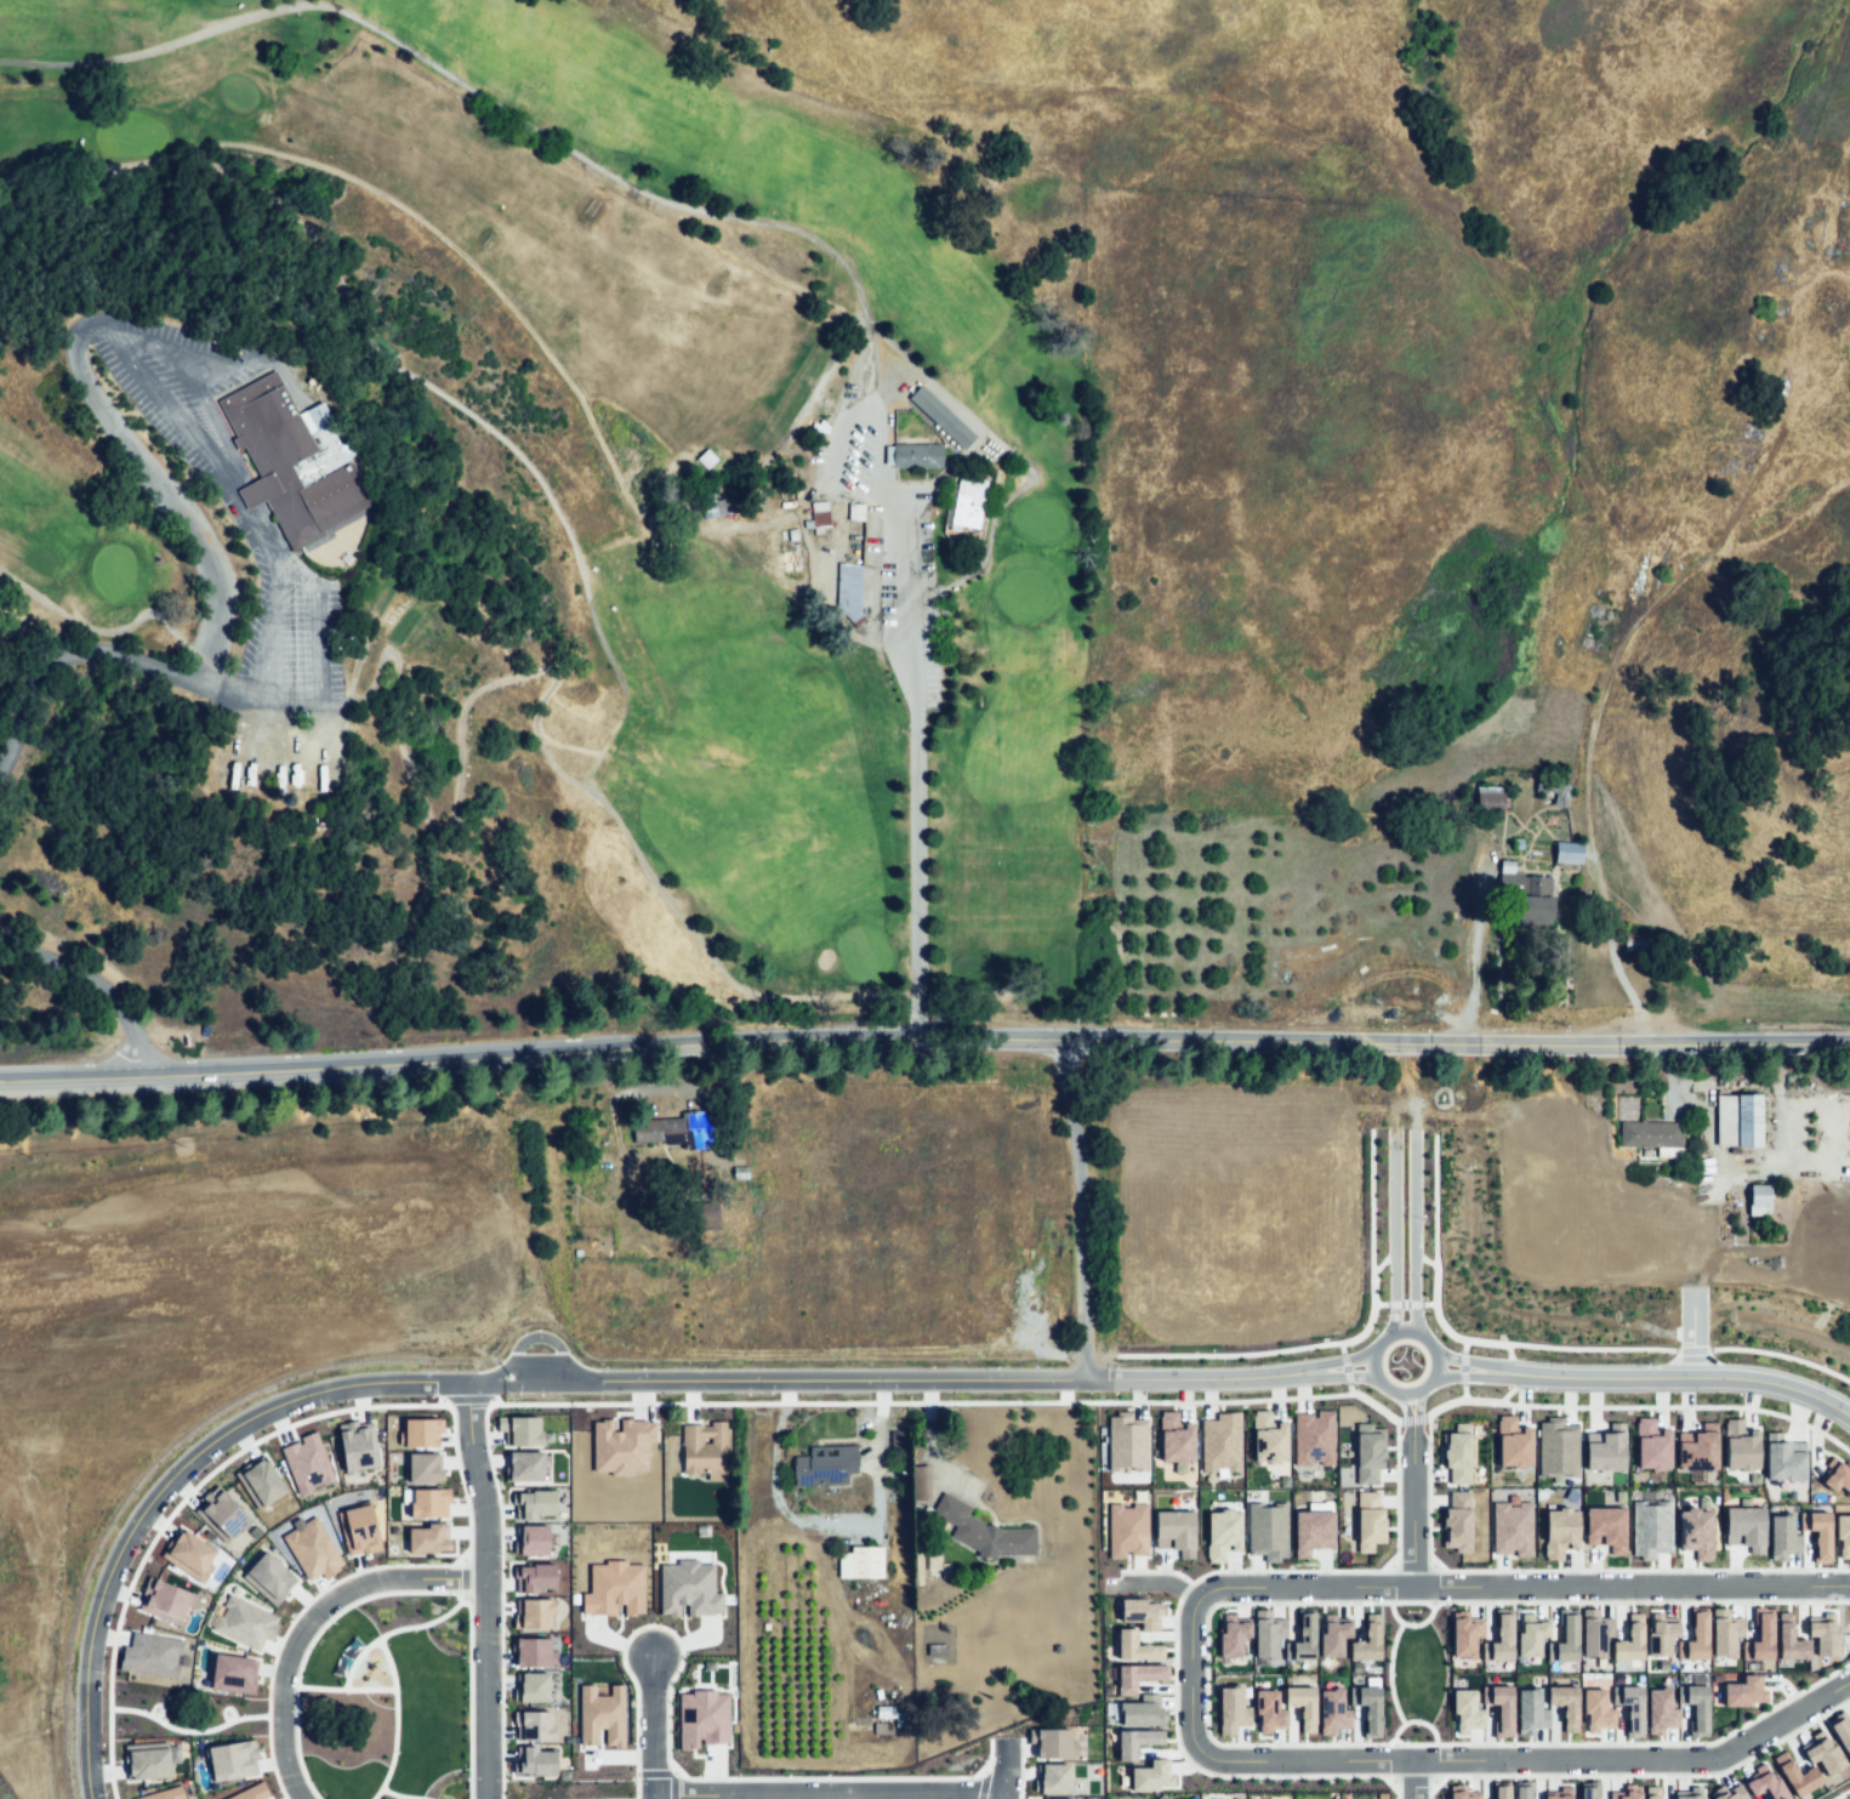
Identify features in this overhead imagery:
road: (574, 153)
road: (399, 209)
building: (1837, 228)
road: (198, 378)
building: (940, 417)
road: (784, 445)
building: (916, 456)
building: (294, 462)
park: (702, 462)
road: (169, 501)
building: (967, 505)
building: (855, 512)
road: (996, 512)
building: (819, 514)
road: (246, 520)
parking lot: (269, 550)
parking lot: (899, 552)
park: (98, 580)
building: (847, 592)
building: (1599, 631)
road: (104, 633)
road: (79, 650)
road: (271, 653)
road: (607, 657)
road: (917, 775)
building: (1491, 801)
road: (419, 822)
building: (1569, 855)
road: (1598, 867)
building: (1538, 899)
road: (1474, 960)
road: (97, 987)
road: (924, 1040)
building: (1738, 1123)
building: (677, 1127)
building: (1650, 1137)
road: (1404, 1185)
building: (1760, 1201)
road: (1080, 1237)
crop: (835, 1249)
road: (1424, 1259)
road: (1383, 1262)
crop: (1828, 1266)
road: (1379, 1303)
road: (1405, 1303)
road: (1429, 1303)
road: (1371, 1315)
road: (1444, 1327)
road: (1691, 1332)
road: (539, 1337)
road: (1382, 1340)
road: (1463, 1345)
road: (1340, 1347)
road: (1590, 1348)
road: (1691, 1349)
road: (1228, 1353)
road: (1781, 1355)
road: (1514, 1359)
road: (1347, 1361)
road: (1468, 1362)
road: (1345, 1368)
road: (1461, 1368)
road: (1467, 1373)
road: (1509, 1373)
road: (1347, 1374)
road: (1690, 1376)
road: (628, 1378)
road: (1200, 1378)
road: (485, 1379)
road: (917, 1379)
road: (417, 1382)
road: (1349, 1388)
road: (1509, 1389)
road: (1463, 1393)
road: (466, 1397)
road: (1458, 1400)
road: (961, 1401)
road: (529, 1402)
road: (1373, 1404)
road: (1679, 1406)
road: (1405, 1407)
road: (1416, 1407)
road: (1411, 1418)
building: (519, 1430)
building: (419, 1433)
building: (1268, 1438)
building: (1313, 1438)
road: (933, 1439)
building: (1176, 1440)
building: (1126, 1441)
building: (1220, 1442)
building: (1513, 1442)
building: (358, 1445)
building: (621, 1445)
building: (1651, 1445)
building: (1740, 1446)
building: (1697, 1447)
building: (1556, 1448)
building: (1605, 1448)
building: (706, 1451)
building: (1366, 1451)
building: (1457, 1454)
building: (1783, 1458)
building: (306, 1463)
building: (826, 1463)
building: (524, 1465)
building: (421, 1467)
building: (1835, 1476)
building: (260, 1481)
building: (922, 1484)
road: (1395, 1492)
road: (1428, 1492)
building: (428, 1502)
road: (1411, 1502)
building: (531, 1504)
building: (220, 1514)
road: (827, 1519)
building: (1368, 1521)
building: (1457, 1521)
road: (133, 1525)
building: (1513, 1526)
building: (1313, 1527)
building: (1605, 1527)
building: (1650, 1527)
building: (1746, 1527)
building: (358, 1530)
building: (1127, 1530)
building: (984, 1531)
building: (1174, 1531)
building: (1266, 1531)
building: (1559, 1532)
building: (1695, 1532)
building: (1222, 1533)
building: (1817, 1533)
building: (1843, 1536)
building: (1782, 1537)
building: (425, 1538)
building: (530, 1539)
building: (312, 1549)
building: (187, 1553)
building: (863, 1562)
road: (1412, 1565)
road: (1641, 1569)
road: (1155, 1570)
building: (268, 1577)
building: (533, 1577)
road: (1151, 1582)
road: (1433, 1583)
road: (1519, 1583)
road: (486, 1588)
building: (614, 1588)
building: (688, 1588)
building: (163, 1600)
building: (1140, 1611)
building: (531, 1613)
road: (307, 1617)
building: (243, 1622)
road: (1410, 1623)
building: (1266, 1633)
building: (1594, 1633)
building: (1724, 1633)
building: (1464, 1634)
building: (1530, 1634)
building: (1822, 1634)
building: (1231, 1635)
building: (1332, 1635)
building: (1660, 1635)
building: (1759, 1635)
building: (1499, 1638)
building: (1302, 1639)
building: (1565, 1639)
building: (1629, 1639)
building: (1694, 1639)
building: (1788, 1639)
building: (1366, 1640)
building: (1135, 1646)
building: (530, 1651)
building: (150, 1653)
road: (1389, 1672)
road: (1174, 1674)
building: (1137, 1675)
road: (1190, 1681)
road: (1205, 1683)
building: (530, 1686)
building: (1736, 1690)
building: (1565, 1704)
building: (1302, 1706)
building: (1367, 1707)
building: (1629, 1707)
building: (1233, 1708)
building: (1499, 1708)
building: (1142, 1710)
building: (1465, 1710)
building: (1530, 1710)
building: (1595, 1710)
building: (1660, 1710)
building: (1268, 1712)
building: (1332, 1712)
building: (600, 1715)
building: (701, 1718)
road: (1413, 1720)
building: (533, 1725)
road: (650, 1729)
building: (1840, 1732)
building: (1049, 1742)
building: (1135, 1742)
building: (1821, 1753)
building: (232, 1759)
building: (146, 1760)
road: (1644, 1760)
building: (533, 1761)
road: (1310, 1761)
road: (1391, 1761)
road: (1004, 1769)
road: (654, 1774)
road: (1650, 1774)
building: (1795, 1775)
building: (1150, 1776)
building: (1052, 1777)
road: (1412, 1780)
road: (1416, 1780)
building: (1763, 1783)
road: (636, 1786)
road: (672, 1786)
road: (1395, 1788)
road: (1429, 1789)
building: (1521, 1789)
building: (1587, 1789)
building: (249, 1791)
building: (1501, 1791)
building: (1461, 1792)
building: (1651, 1792)
building: (163, 1793)
building: (1626, 1793)
building: (1727, 1793)
road: (1840, 1793)
road: (827, 1795)
building: (1687, 1795)

